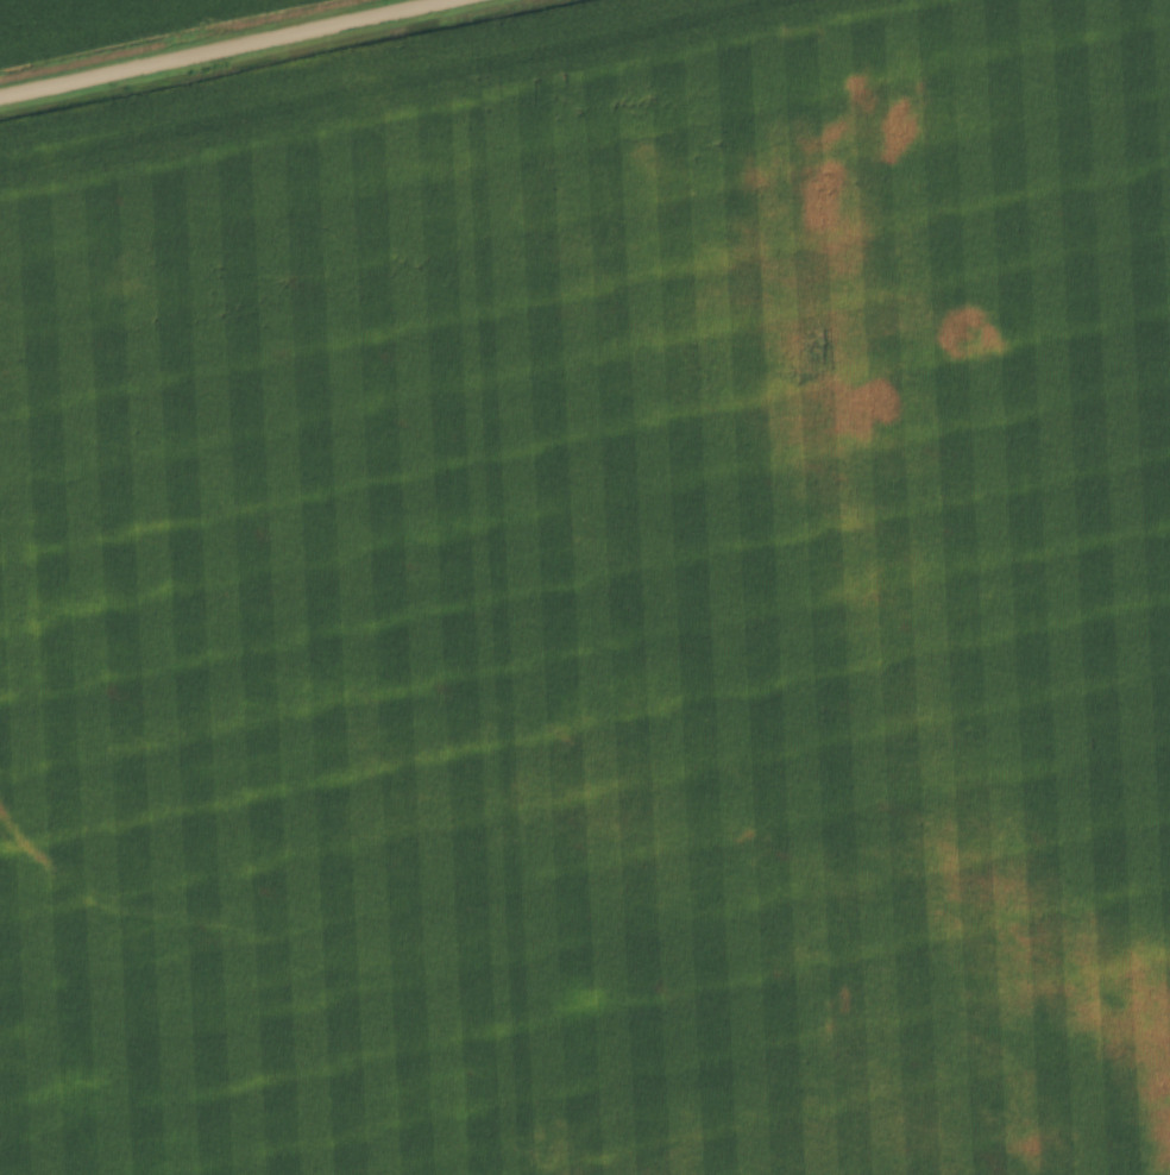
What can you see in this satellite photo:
road: (235, 50)

